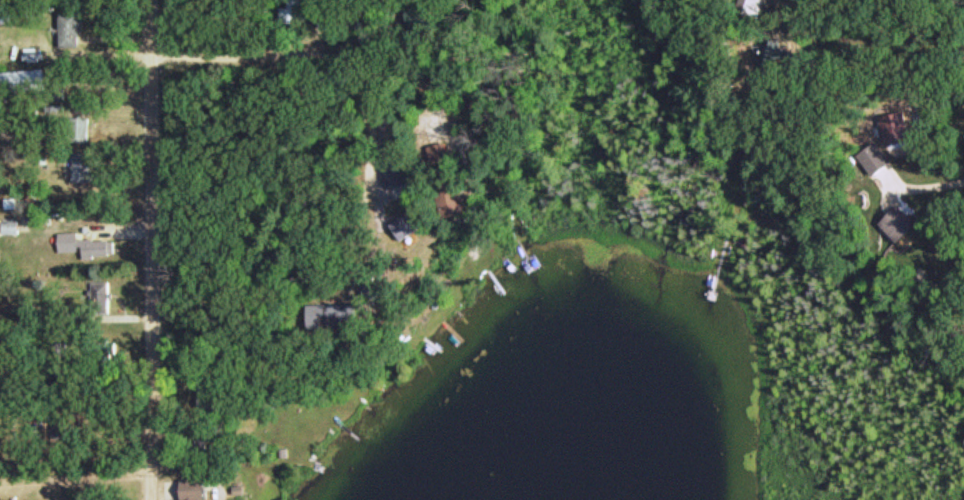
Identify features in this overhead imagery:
building: (324, 5)
building: (757, 6)
building: (298, 11)
building: (75, 29)
road: (321, 54)
road: (773, 60)
building: (29, 79)
building: (84, 128)
building: (87, 169)
building: (901, 230)
building: (91, 244)
road: (153, 250)
building: (96, 350)

